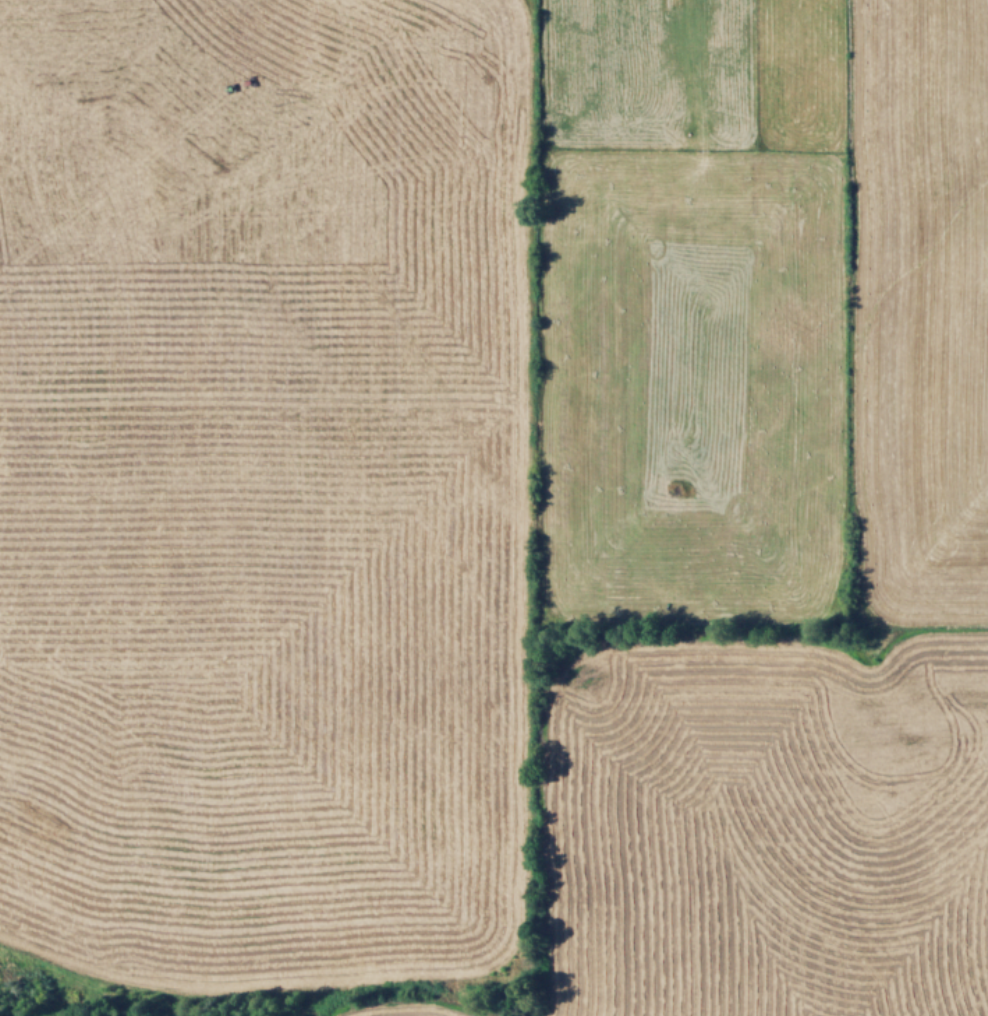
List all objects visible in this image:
crop: (494, 508)

